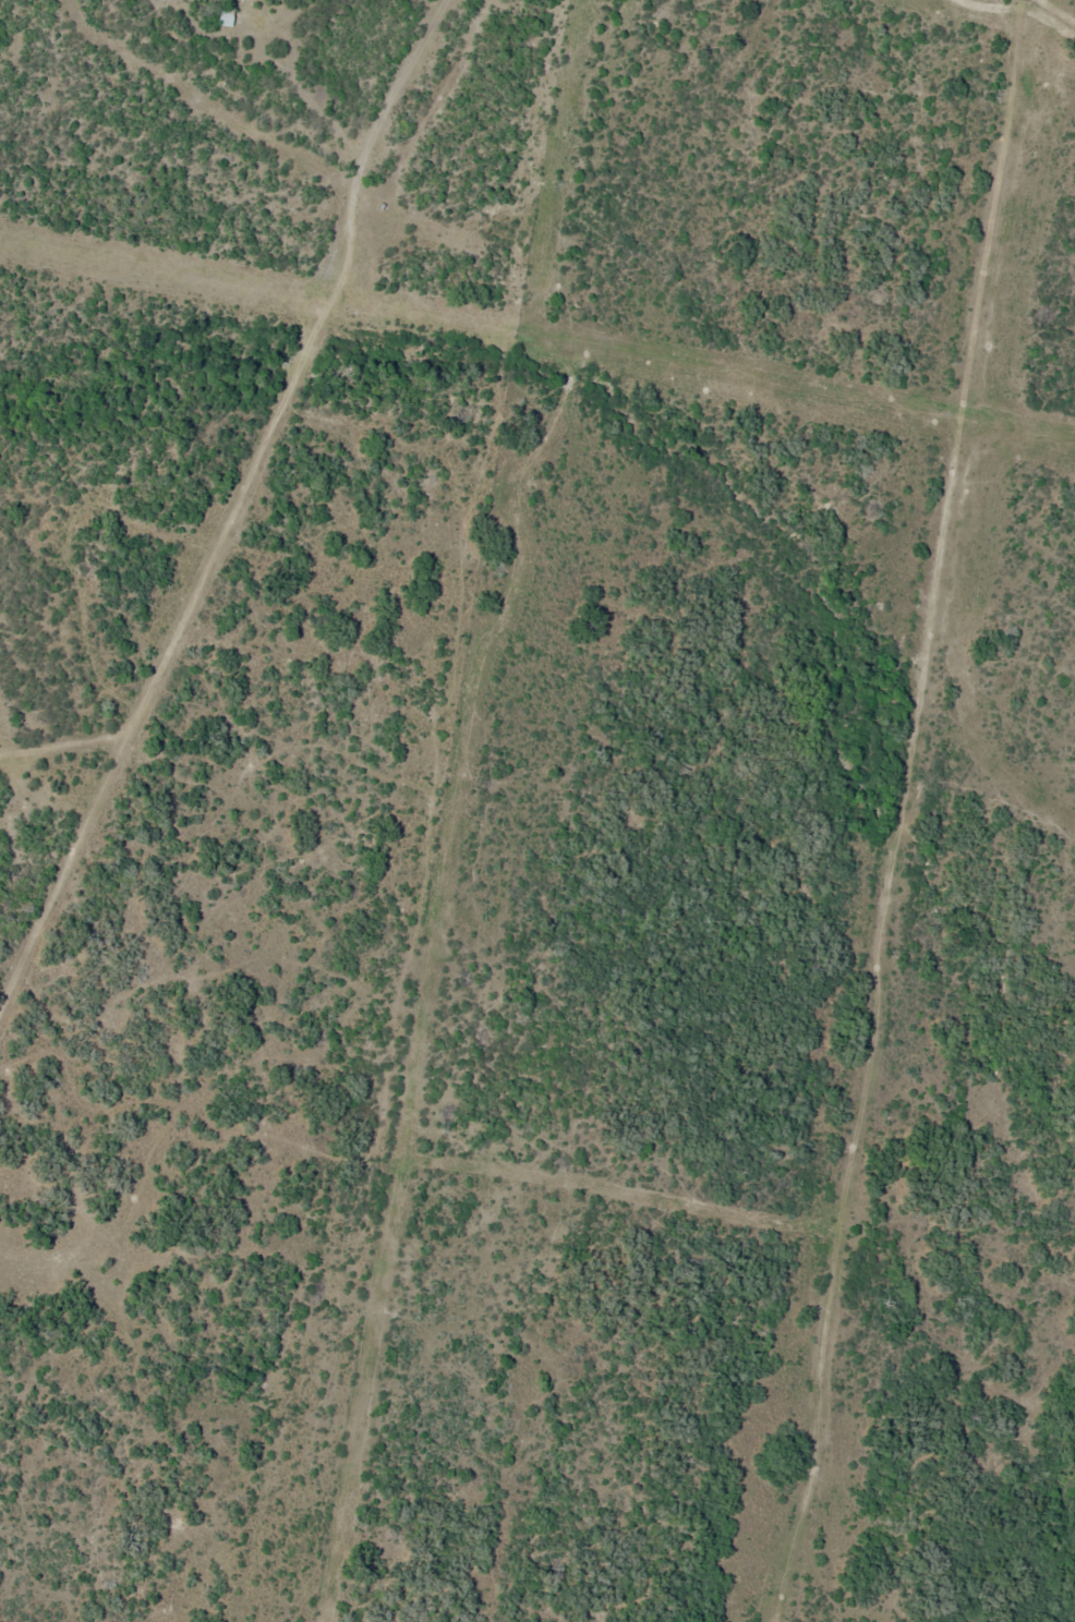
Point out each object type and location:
building: (227, 17)
road: (250, 535)

